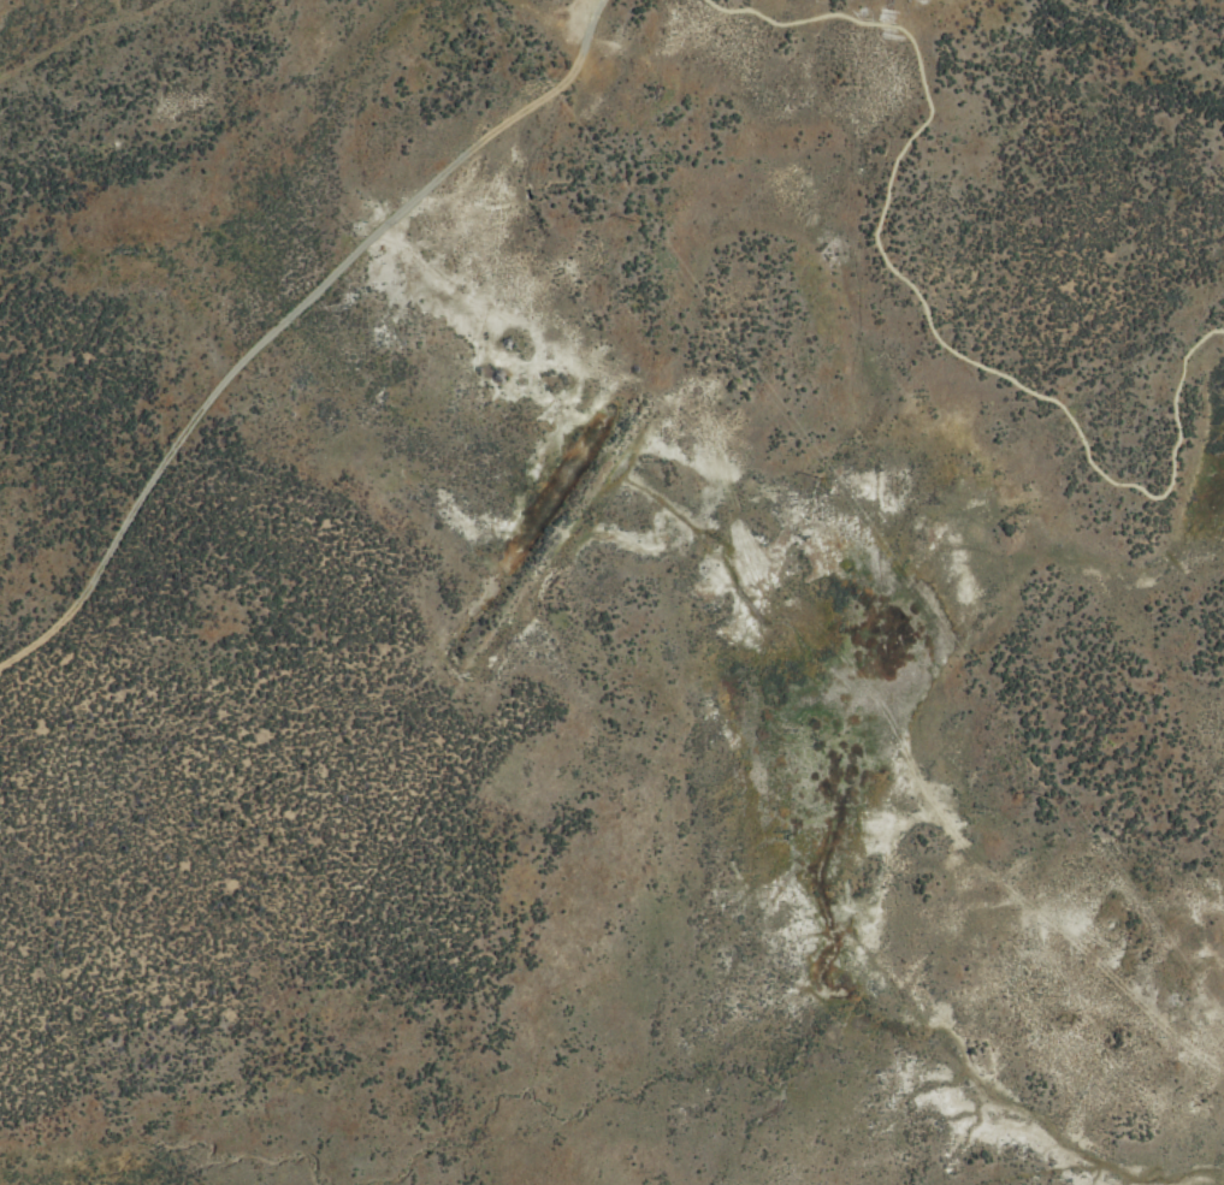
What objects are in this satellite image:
road: (285, 316)
crop: (611, 592)

